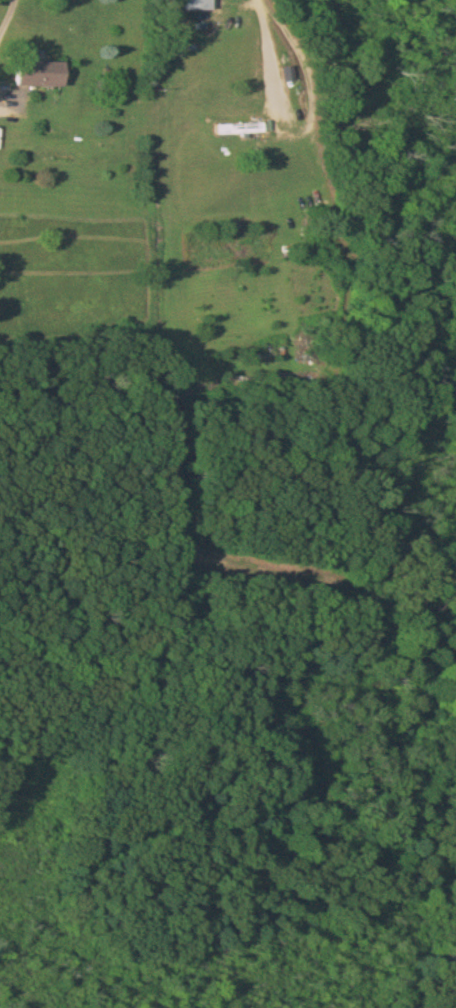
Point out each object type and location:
building: (196, 5)
road: (9, 20)
building: (38, 75)
road: (5, 100)
road: (299, 128)
building: (239, 130)

